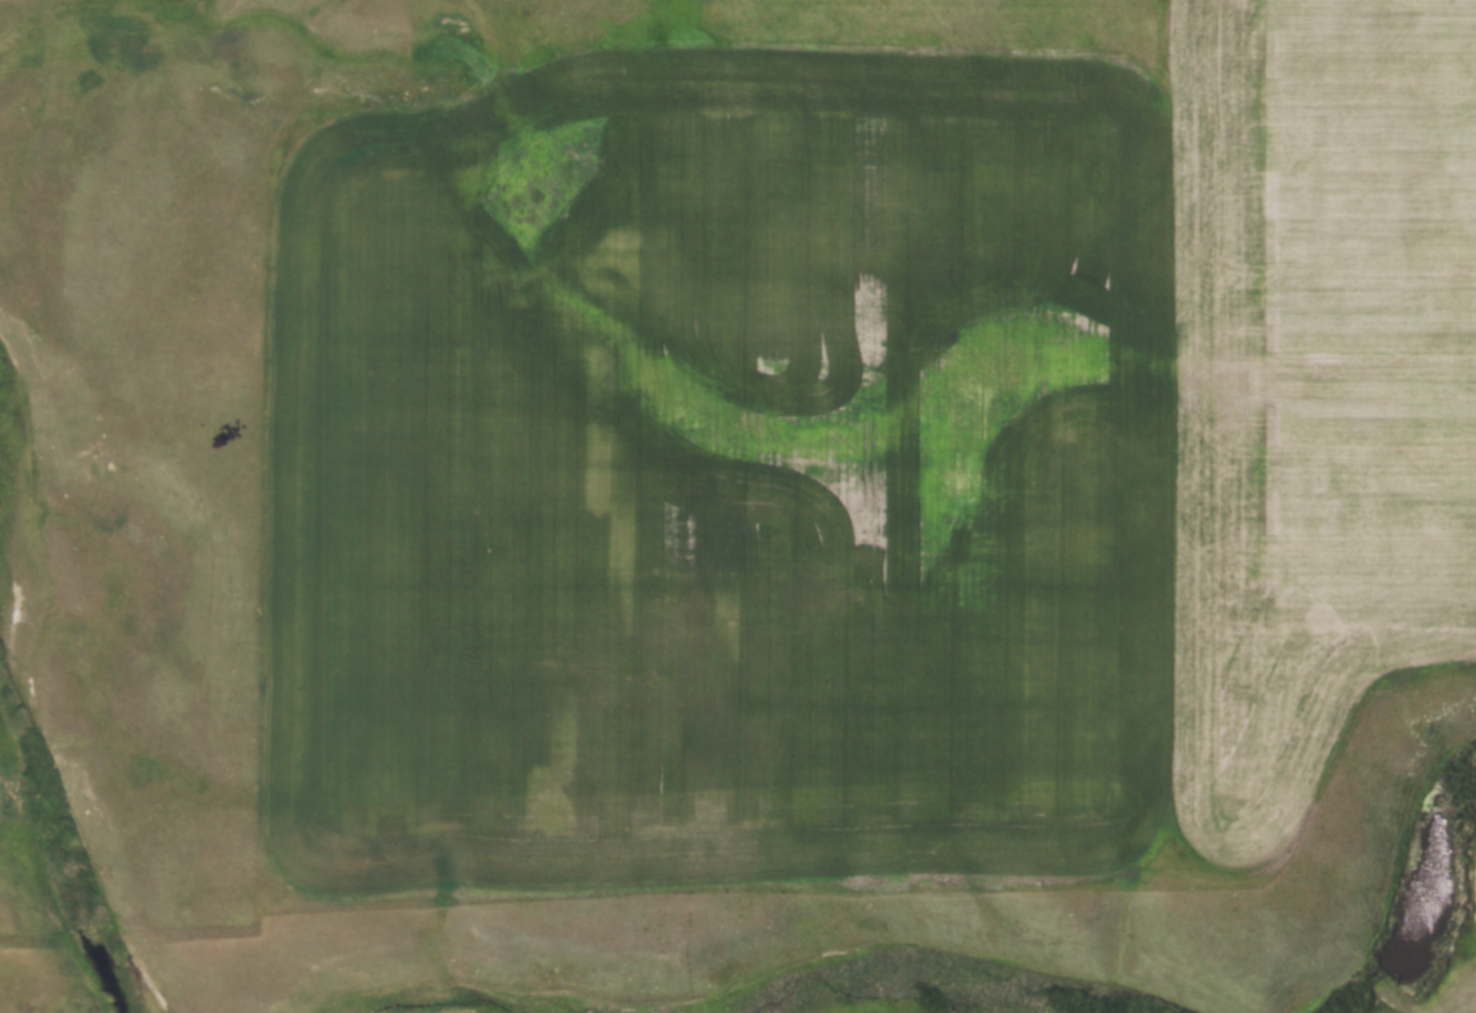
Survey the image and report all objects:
road: (456, 4)
road: (1319, 780)

